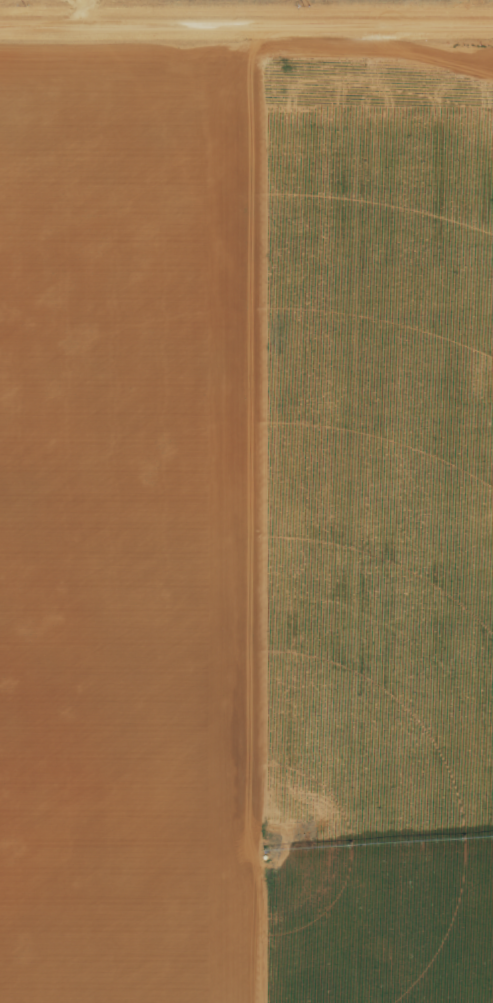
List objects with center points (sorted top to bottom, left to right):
road: (317, 2)

